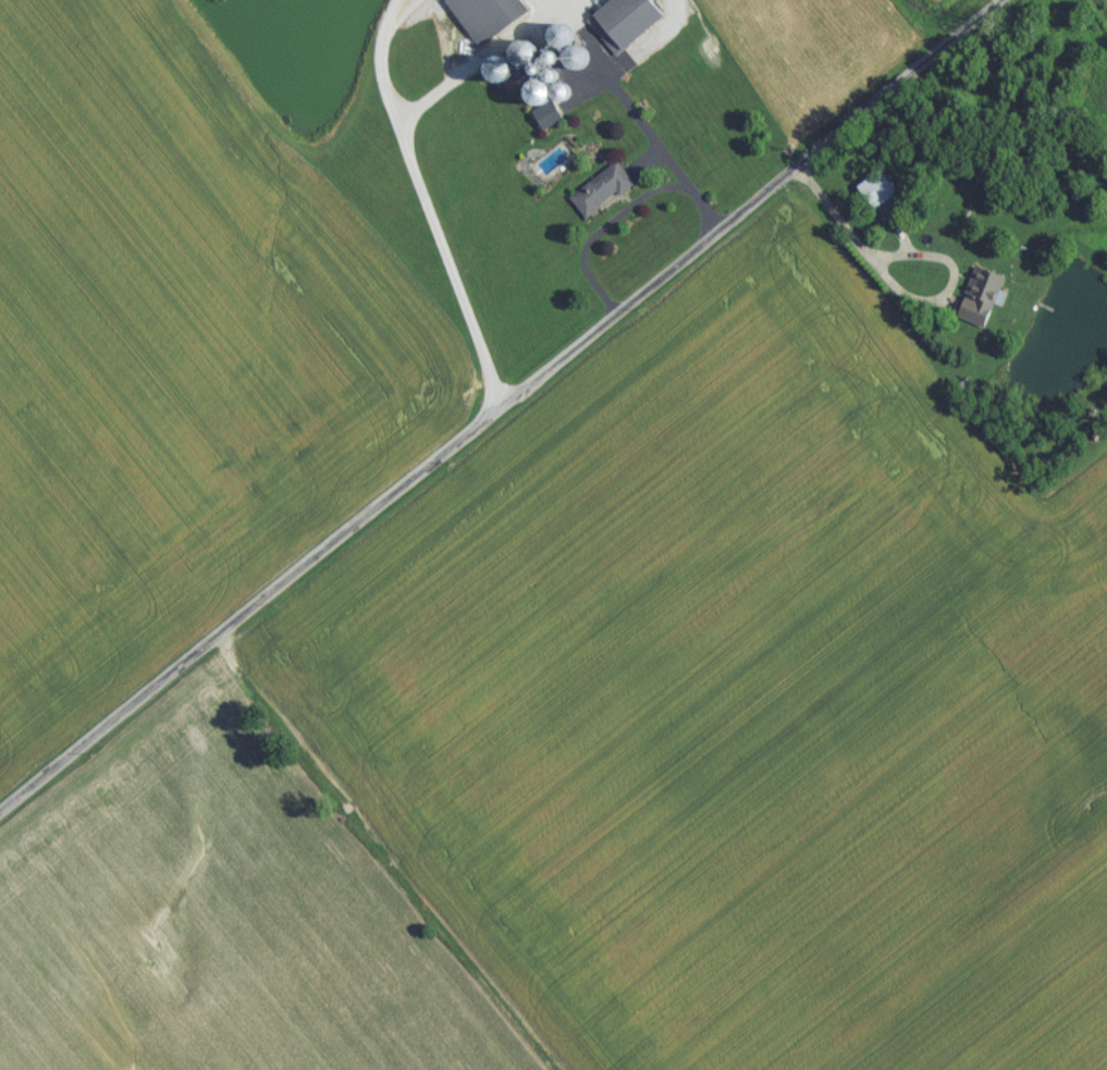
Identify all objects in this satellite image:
building: (637, 25)
road: (635, 118)
road: (425, 199)
road: (948, 217)
road: (605, 232)
building: (976, 305)
road: (503, 397)

